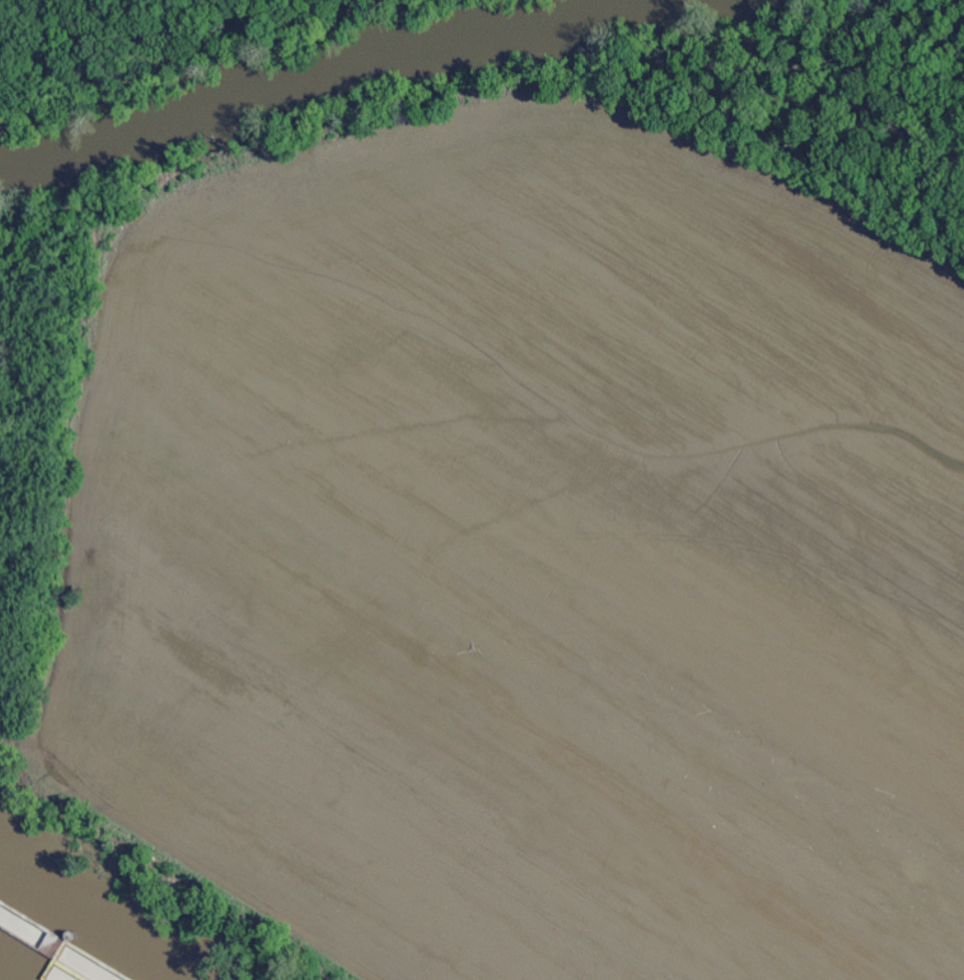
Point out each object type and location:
road: (346, 758)

